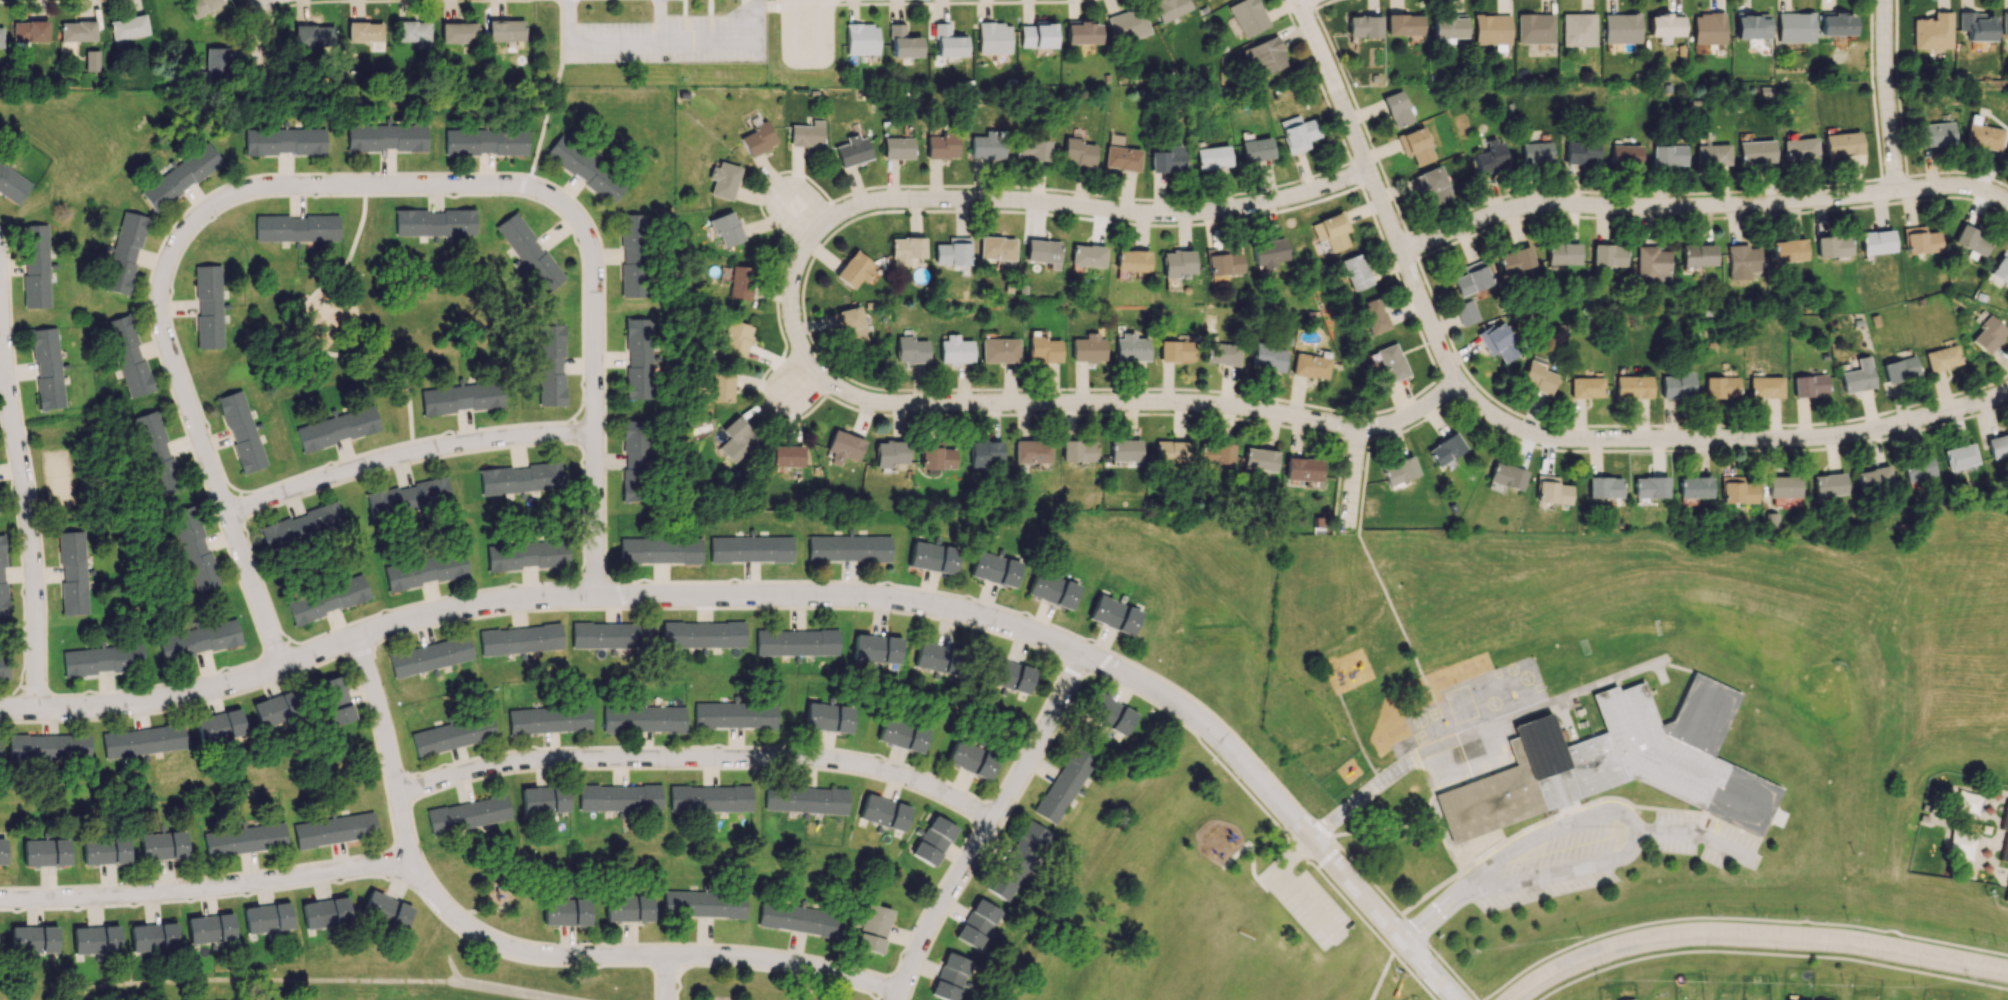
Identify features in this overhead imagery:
road: (787, 0)
road: (795, 1)
road: (896, 1)
road: (954, 2)
road: (1304, 2)
road: (1322, 3)
road: (1312, 4)
building: (206, 6)
building: (1167, 8)
road: (756, 10)
building: (1247, 16)
road: (568, 20)
road: (658, 20)
building: (1127, 24)
building: (1836, 24)
building: (2004, 24)
building: (1363, 26)
building: (1404, 26)
building: (1664, 26)
building: (1751, 26)
building: (1976, 26)
building: (128, 27)
building: (1447, 27)
building: (1794, 27)
building: (1534, 28)
building: (1621, 28)
building: (1708, 28)
building: (1577, 29)
building: (30, 30)
building: (505, 30)
building: (77, 31)
building: (365, 31)
building: (1491, 31)
building: (458, 32)
building: (1932, 32)
building: (414, 33)
parking lot: (805, 33)
building: (1081, 33)
building: (313, 35)
building: (1036, 36)
building: (1, 37)
building: (993, 38)
road: (261, 39)
building: (861, 39)
parking lot: (666, 41)
road: (705, 41)
building: (948, 41)
road: (613, 42)
building: (902, 42)
road: (560, 43)
building: (1265, 55)
building: (92, 60)
road: (804, 63)
building: (213, 67)
road: (1317, 79)
road: (1336, 85)
road: (1898, 87)
road: (1872, 88)
road: (1886, 95)
building: (1397, 108)
road: (1361, 119)
road: (541, 129)
building: (1298, 133)
building: (806, 134)
building: (1935, 134)
building: (1982, 135)
building: (386, 137)
building: (758, 138)
building: (284, 140)
building: (485, 141)
building: (1842, 144)
building: (942, 145)
building: (988, 145)
building: (1418, 146)
building: (898, 147)
road: (1380, 147)
building: (1799, 148)
building: (1256, 149)
building: (852, 150)
building: (1032, 150)
building: (1077, 152)
building: (1536, 152)
building: (1580, 152)
building: (1756, 152)
building: (1120, 154)
building: (1712, 154)
building: (2007, 154)
building: (1625, 155)
building: (1669, 155)
building: (1491, 156)
building: (1212, 157)
road: (1357, 157)
building: (1167, 160)
building: (585, 168)
road: (1958, 171)
road: (525, 173)
road: (1355, 173)
building: (180, 176)
road: (1893, 176)
road: (769, 178)
building: (723, 179)
road: (1906, 182)
building: (12, 183)
road: (521, 183)
road: (1880, 184)
building: (1434, 185)
road: (1090, 192)
road: (1640, 192)
road: (252, 193)
road: (520, 194)
road: (1907, 195)
road: (1879, 197)
road: (1052, 203)
street lamp: (1284, 203)
road: (1704, 205)
road: (799, 209)
road: (1389, 214)
road: (1099, 215)
road: (1711, 216)
road: (1881, 216)
road: (1911, 216)
road: (806, 219)
building: (434, 222)
building: (296, 228)
building: (726, 228)
road: (1140, 231)
building: (1330, 231)
road: (1097, 232)
building: (1920, 240)
building: (1876, 241)
building: (1971, 241)
road: (821, 242)
road: (1411, 245)
building: (1832, 246)
building: (907, 247)
building: (996, 247)
building: (1041, 250)
building: (1788, 250)
building: (1268, 251)
building: (124, 252)
building: (529, 252)
building: (1562, 253)
building: (631, 255)
building: (950, 255)
building: (1087, 255)
building: (1608, 255)
building: (1698, 255)
building: (1131, 260)
building: (1515, 260)
building: (1743, 261)
building: (1176, 263)
building: (1224, 263)
building: (1653, 263)
building: (35, 266)
building: (853, 268)
building: (1354, 271)
building: (2000, 271)
building: (1139, 274)
building: (1472, 278)
building: (740, 282)
building: (1008, 286)
building: (1022, 287)
road: (594, 296)
building: (869, 304)
building: (208, 306)
building: (1466, 312)
building: (1371, 316)
road: (1431, 320)
building: (848, 324)
building: (1988, 334)
building: (736, 337)
road: (313, 341)
building: (1498, 342)
building: (1000, 349)
building: (1044, 349)
building: (1087, 349)
building: (1131, 349)
building: (911, 351)
building: (956, 351)
building: (1176, 351)
building: (1222, 353)
building: (128, 355)
building: (1267, 356)
building: (638, 358)
building: (1942, 358)
road: (602, 362)
building: (1389, 363)
building: (550, 364)
building: (1310, 365)
building: (46, 369)
building: (1899, 369)
road: (802, 372)
building: (1857, 376)
building: (1538, 377)
road: (798, 382)
building: (722, 385)
building: (1677, 385)
building: (1809, 385)
building: (1633, 386)
road: (1448, 387)
building: (1586, 387)
building: (1721, 387)
building: (1765, 387)
road: (1461, 393)
road: (1297, 394)
building: (462, 397)
road: (1403, 397)
road: (1104, 402)
road: (957, 414)
road: (1367, 414)
road: (1414, 422)
road: (1670, 423)
road: (1368, 427)
building: (337, 428)
building: (241, 431)
road: (1297, 435)
road: (1356, 438)
building: (737, 439)
road: (1393, 439)
road: (1728, 442)
building: (1997, 445)
building: (843, 447)
building: (1444, 449)
building: (1077, 450)
building: (1123, 450)
building: (1031, 451)
road: (1726, 451)
building: (157, 452)
building: (984, 452)
building: (1170, 452)
road: (405, 453)
building: (890, 453)
building: (1215, 454)
building: (787, 455)
building: (936, 455)
road: (1546, 456)
building: (1959, 456)
building: (1259, 459)
road: (1595, 459)
building: (634, 460)
road: (210, 468)
building: (1916, 468)
building: (1302, 469)
building: (1398, 470)
road: (1351, 475)
building: (1506, 476)
park: (56, 477)
building: (520, 478)
building: (1872, 480)
building: (1827, 484)
road: (1363, 486)
building: (1782, 486)
building: (1649, 487)
building: (1694, 487)
building: (1603, 488)
building: (1551, 490)
building: (1737, 490)
road: (1578, 495)
building: (408, 497)
building: (324, 517)
road: (27, 521)
building: (284, 532)
building: (194, 547)
building: (848, 548)
building: (750, 549)
building: (659, 550)
building: (526, 555)
building: (932, 557)
building: (993, 569)
building: (425, 571)
building: (72, 572)
building: (2, 579)
building: (1051, 589)
road: (240, 590)
road: (620, 594)
road: (1386, 597)
road: (686, 598)
building: (326, 599)
building: (1113, 615)
road: (1551, 617)
road: (17, 625)
building: (703, 634)
building: (612, 635)
park: (1628, 635)
building: (520, 639)
building: (198, 640)
building: (796, 642)
building: (876, 648)
building: (429, 656)
building: (937, 658)
building: (102, 659)
road: (1661, 660)
building: (3, 666)
road: (1660, 673)
building: (1010, 675)
road: (1607, 681)
building: (335, 700)
road: (1436, 706)
building: (275, 709)
building: (1110, 713)
building: (734, 714)
building: (827, 717)
building: (643, 718)
building: (549, 719)
park: (1806, 719)
road: (1566, 721)
building: (219, 726)
building: (902, 734)
building: (452, 735)
building: (143, 741)
road: (1444, 742)
building: (48, 746)
road: (1246, 747)
road: (390, 751)
building: (971, 759)
road: (702, 761)
building: (1615, 763)
building: (1063, 785)
building: (619, 797)
building: (709, 798)
building: (544, 799)
building: (805, 799)
building: (1967, 801)
building: (883, 812)
building: (467, 814)
road: (1326, 824)
road: (990, 827)
building: (334, 829)
road: (1543, 832)
building: (2003, 833)
road: (1695, 834)
building: (245, 839)
parking lot: (1700, 839)
building: (933, 840)
building: (1963, 844)
building: (163, 845)
building: (2, 850)
building: (106, 851)
building: (46, 852)
road: (1293, 854)
road: (1327, 856)
road: (1251, 858)
building: (1017, 860)
parking lot: (1552, 864)
road: (1553, 873)
road: (208, 889)
building: (2005, 894)
road: (1344, 900)
road: (1306, 902)
building: (704, 904)
parking lot: (1306, 905)
building: (628, 907)
building: (385, 910)
building: (566, 911)
building: (325, 912)
road: (1430, 915)
building: (267, 917)
road: (1383, 918)
building: (799, 919)
road: (1736, 919)
building: (976, 923)
building: (210, 928)
building: (873, 928)
road: (1752, 934)
building: (153, 937)
building: (33, 939)
building: (95, 939)
road: (1770, 954)
road: (642, 958)
park: (1221, 966)
road: (1380, 976)
road: (1411, 976)
building: (950, 977)
road: (669, 979)
road: (833, 983)
building: (1629, 999)

